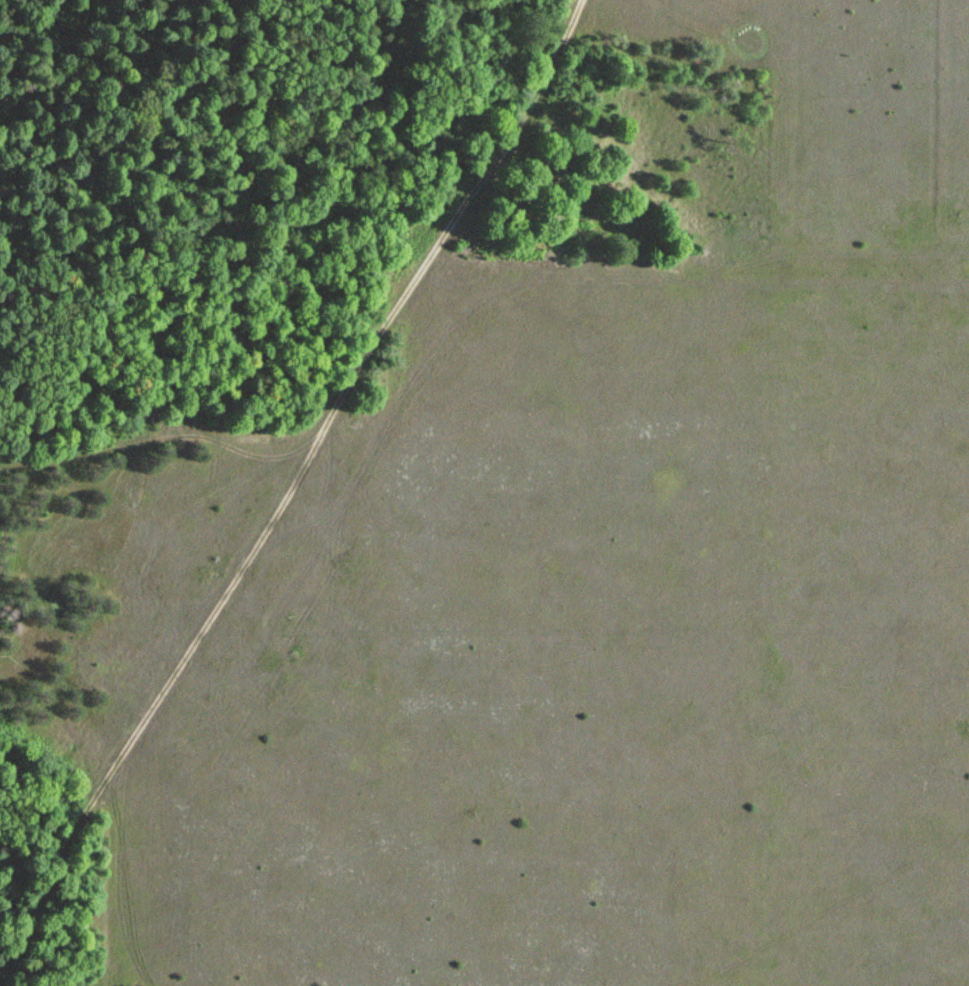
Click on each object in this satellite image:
road: (284, 488)

